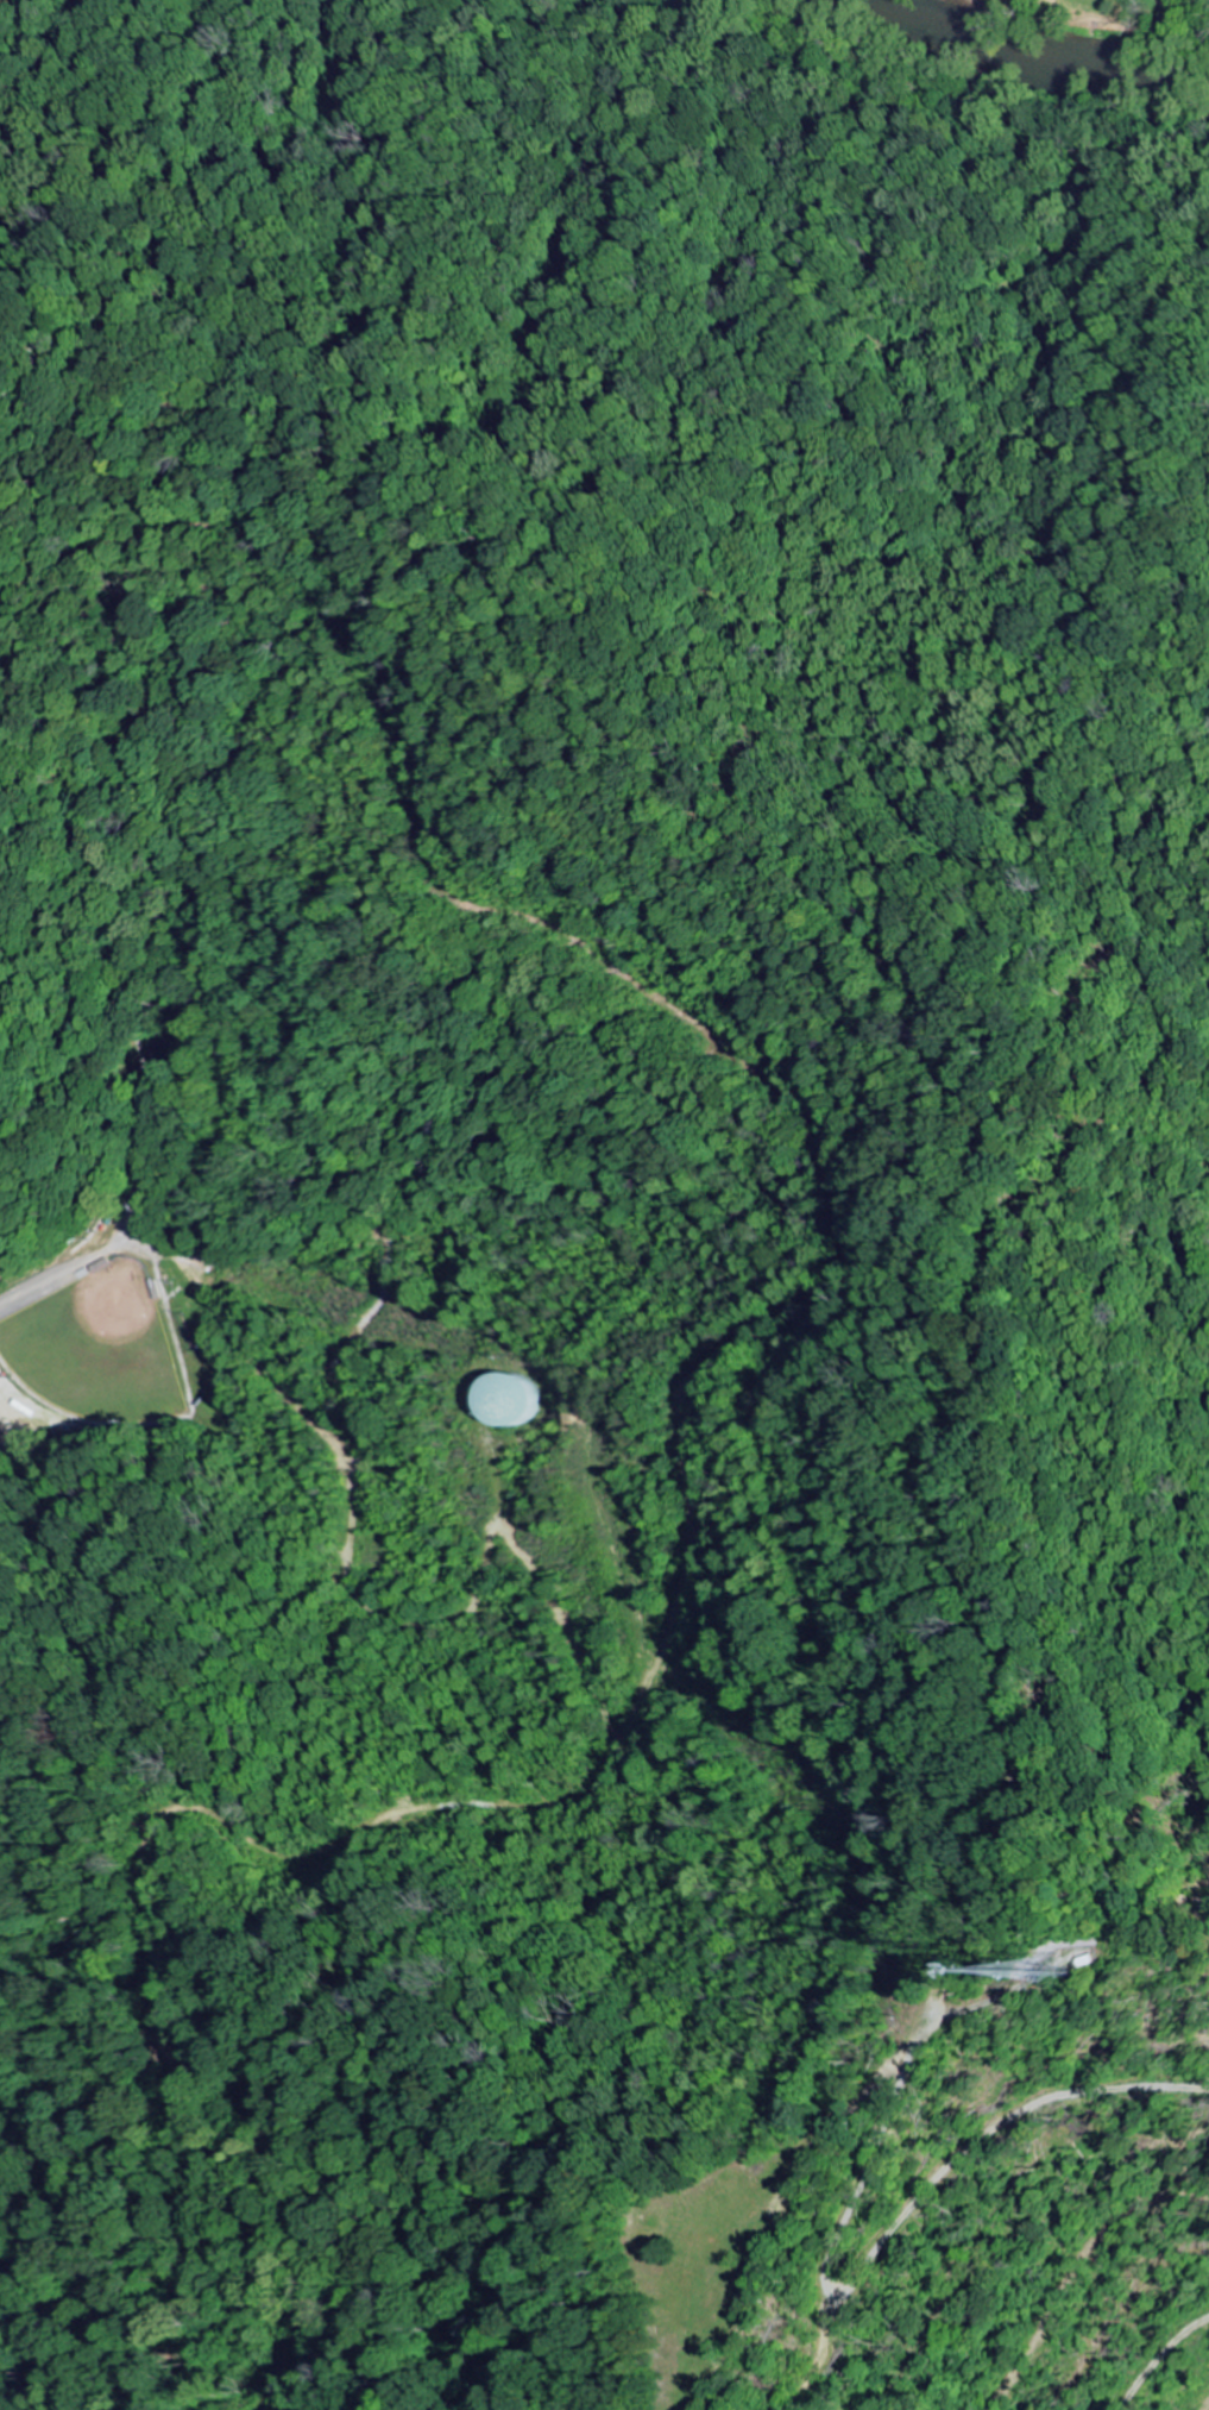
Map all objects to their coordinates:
river: (1020, 44)
building: (502, 1402)

